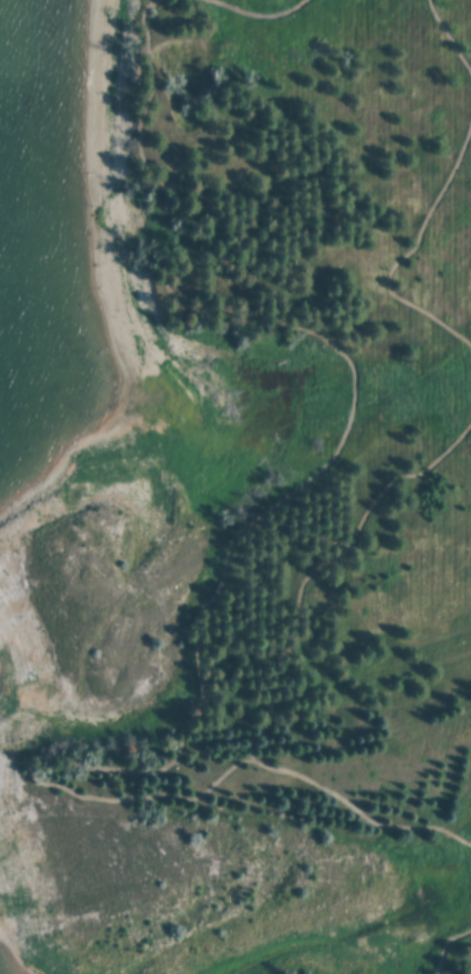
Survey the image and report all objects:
road: (259, 16)
road: (444, 40)
road: (401, 258)
road: (299, 489)
park: (278, 510)
road: (313, 576)
road: (355, 818)
road: (450, 950)
road: (449, 965)
park: (300, 968)

